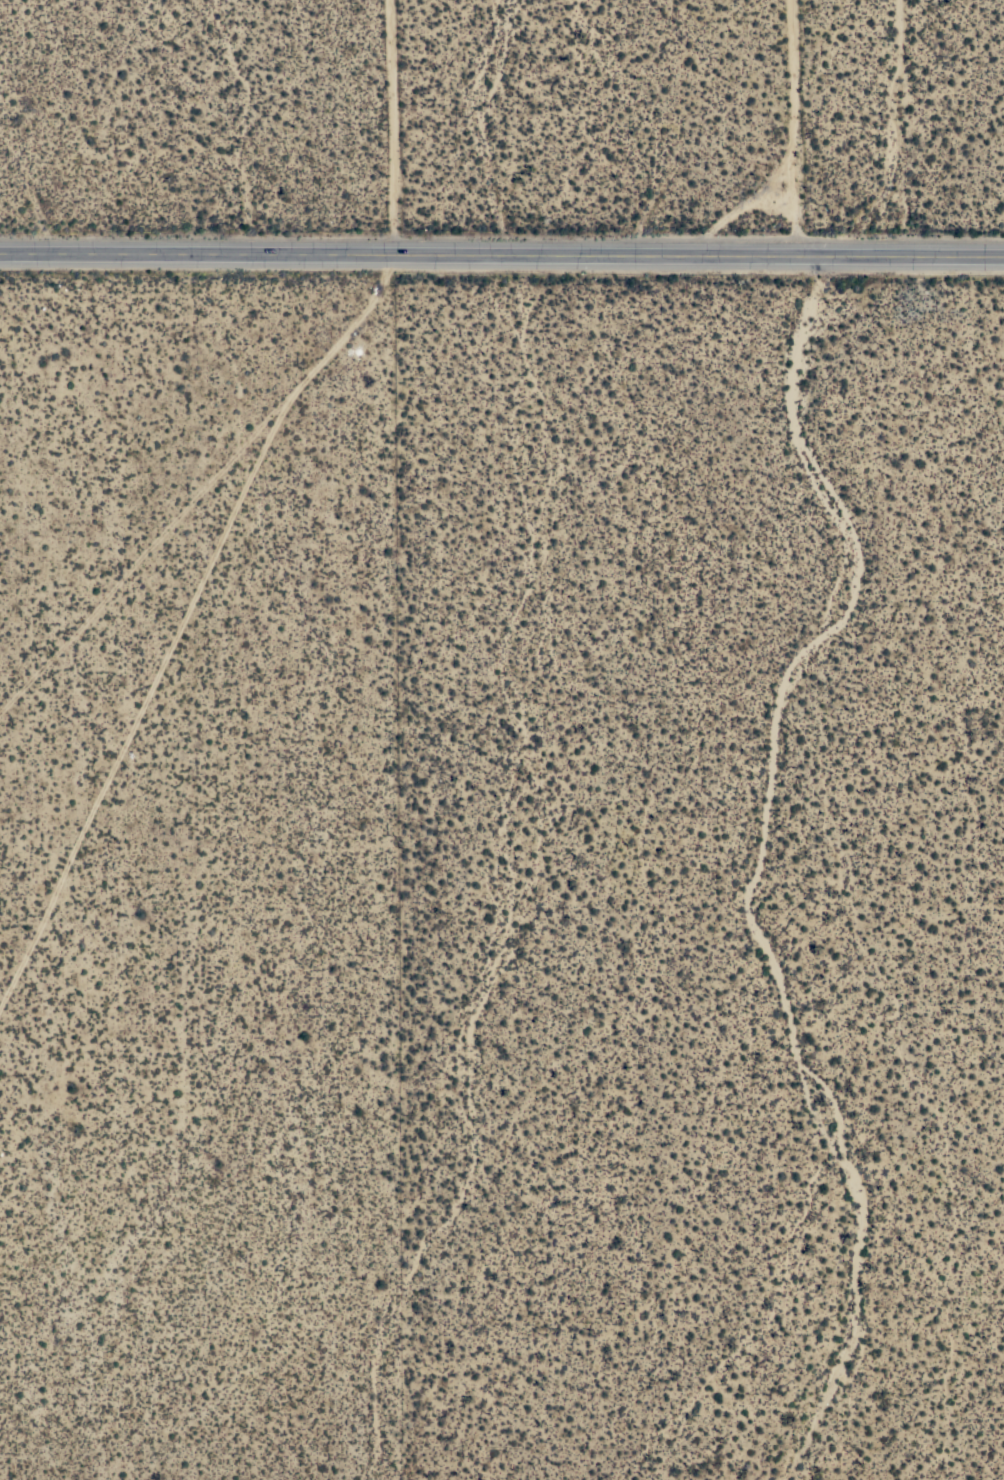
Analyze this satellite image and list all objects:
road: (393, 128)
road: (795, 128)
road: (415, 256)
road: (840, 257)
road: (927, 257)

